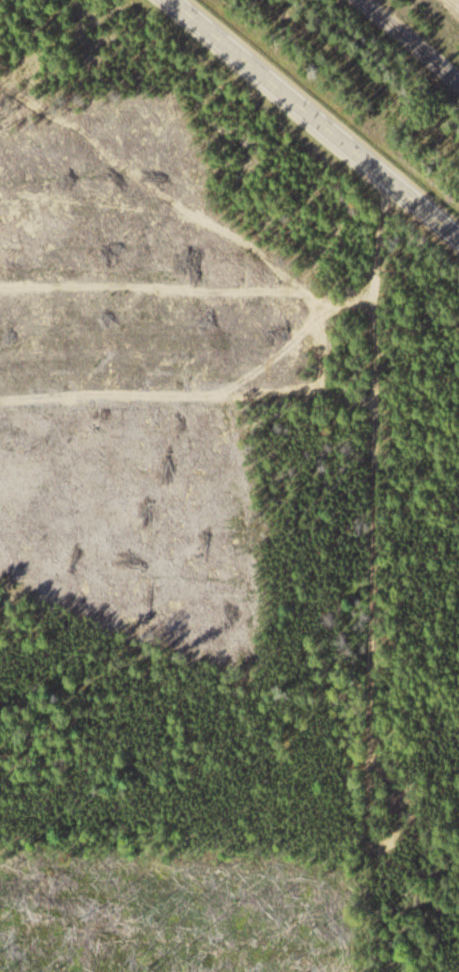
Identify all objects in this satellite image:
road: (453, 4)
railway: (393, 54)
road: (321, 113)
road: (352, 302)
road: (324, 318)
road: (370, 578)

